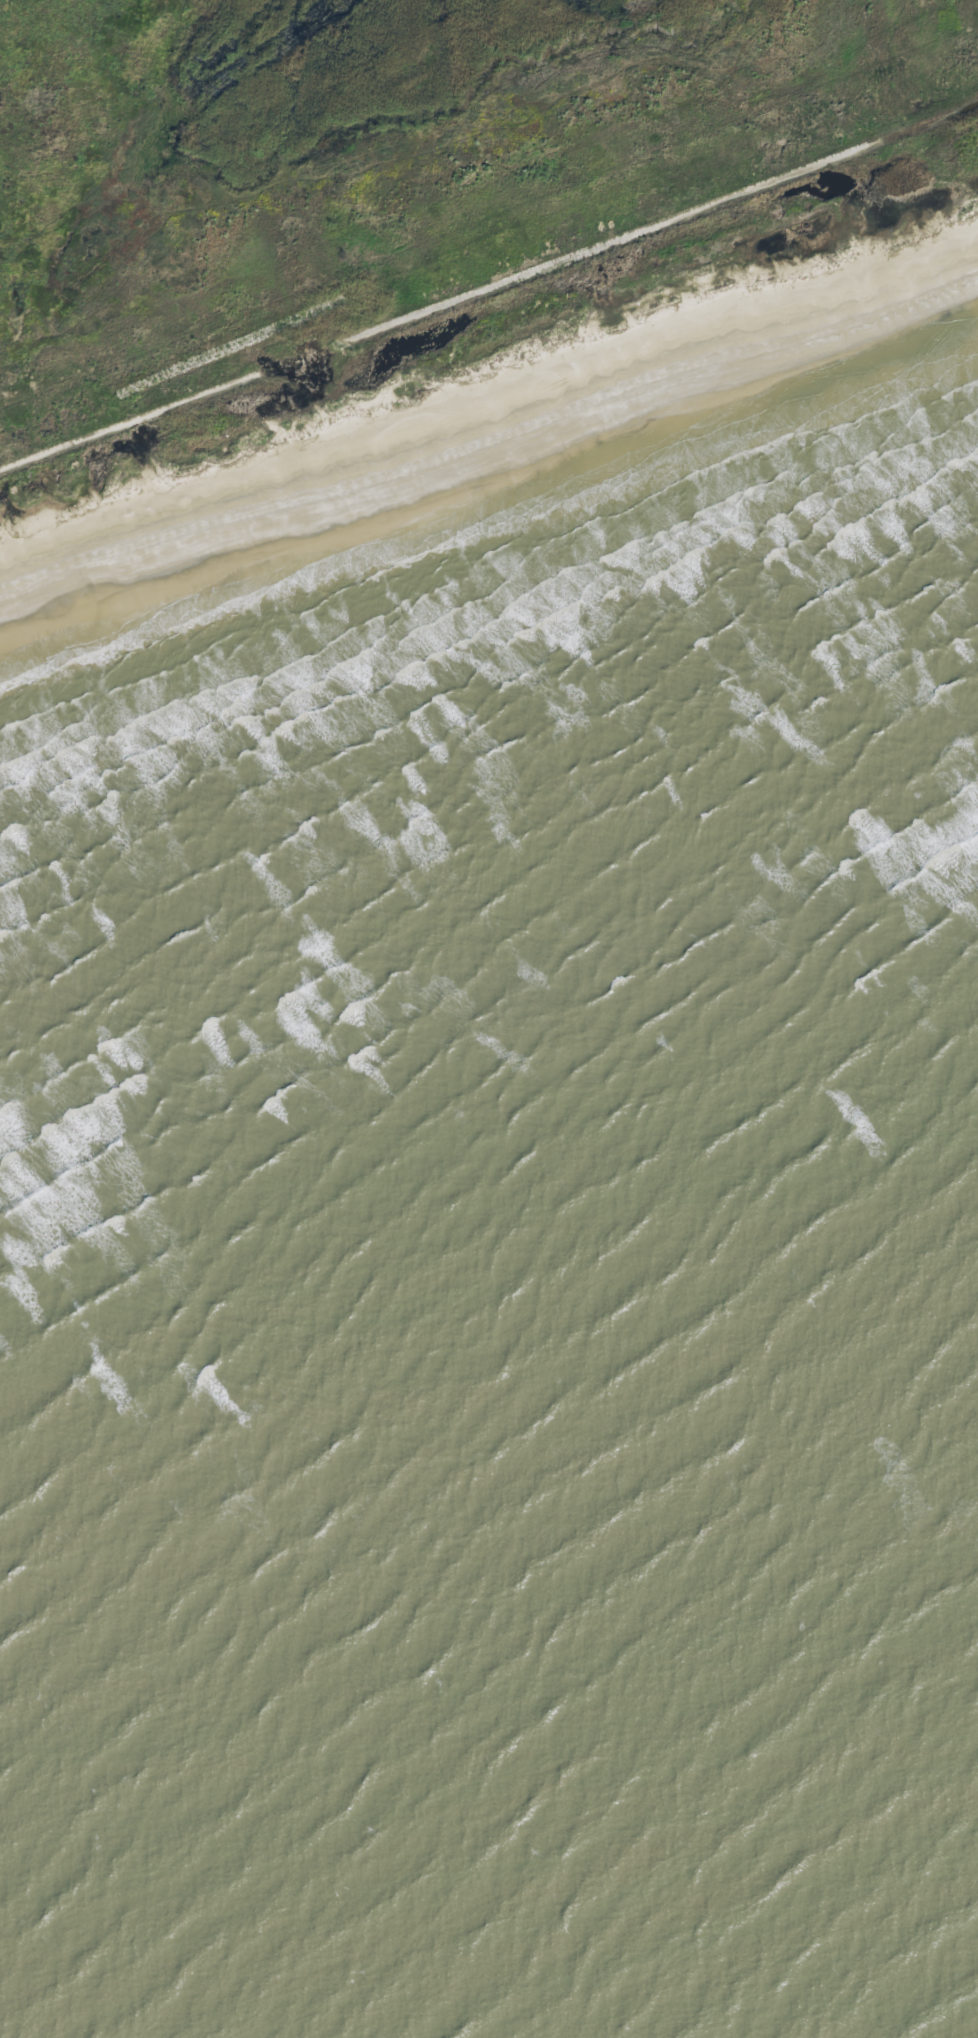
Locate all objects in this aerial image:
road: (489, 289)

